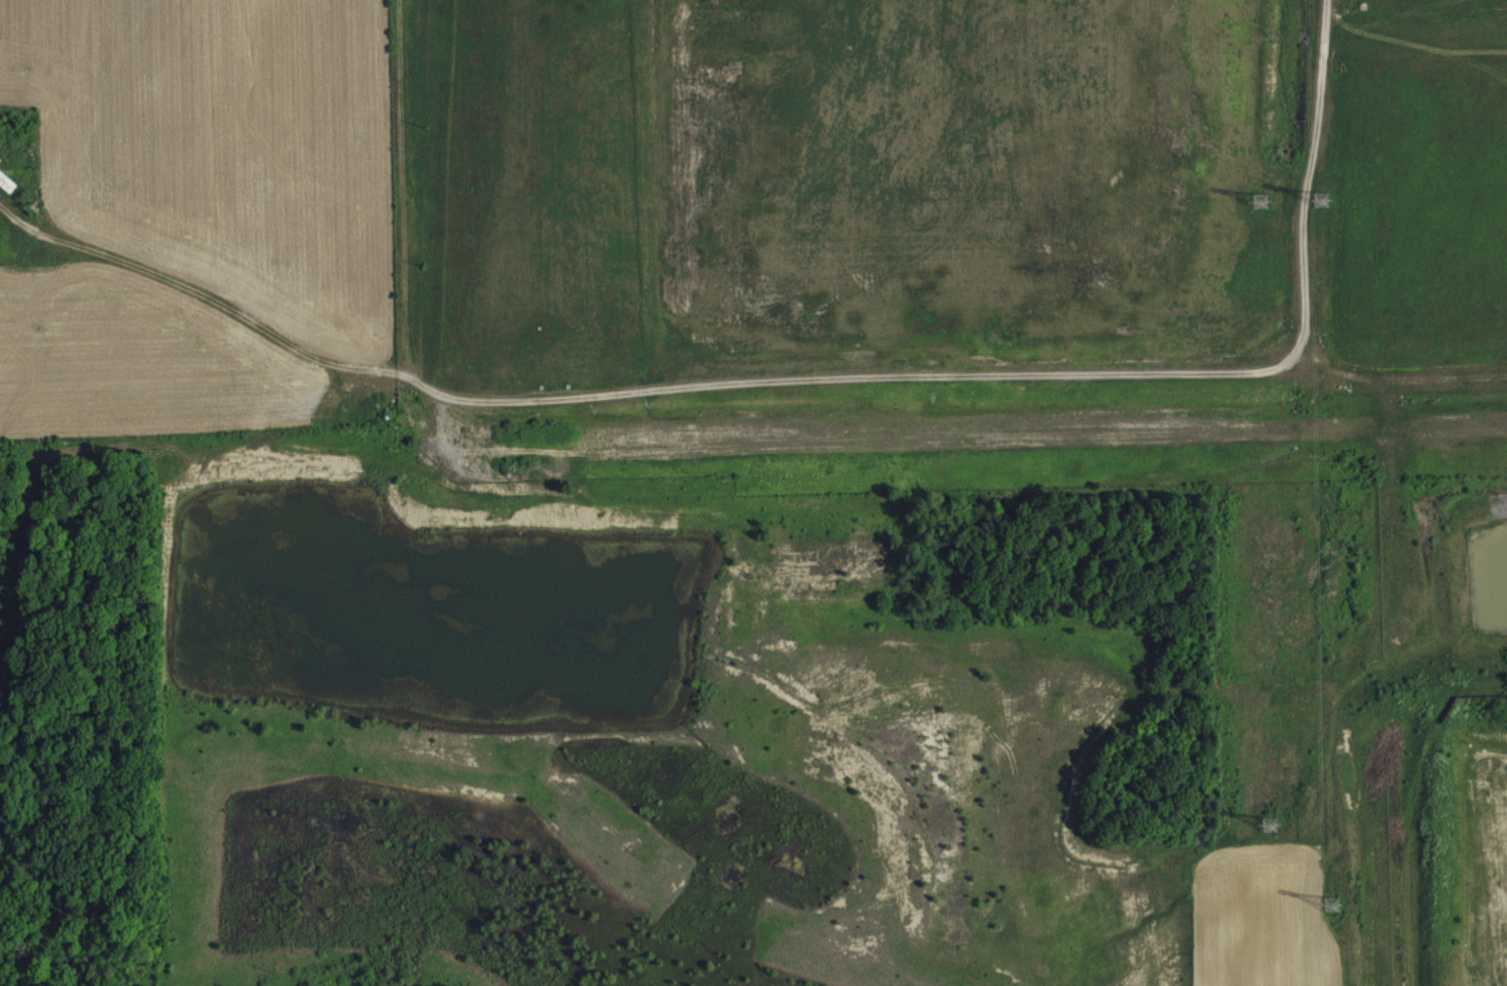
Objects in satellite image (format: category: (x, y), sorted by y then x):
power tower: (1264, 197)
power tower: (1324, 198)
power tower: (1272, 819)
power tower: (1335, 902)

